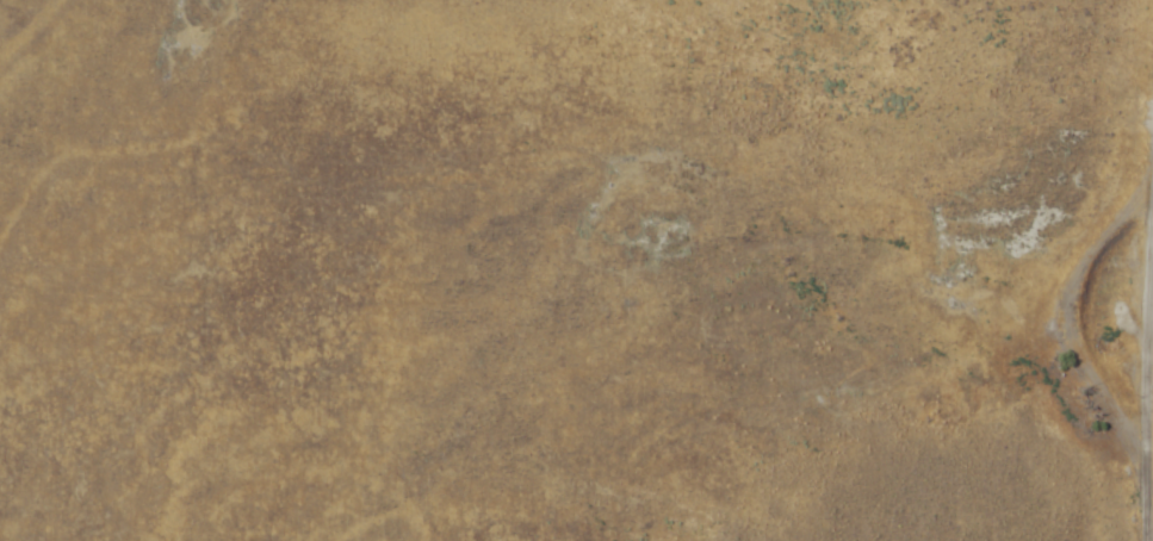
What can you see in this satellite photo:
road: (1149, 440)

